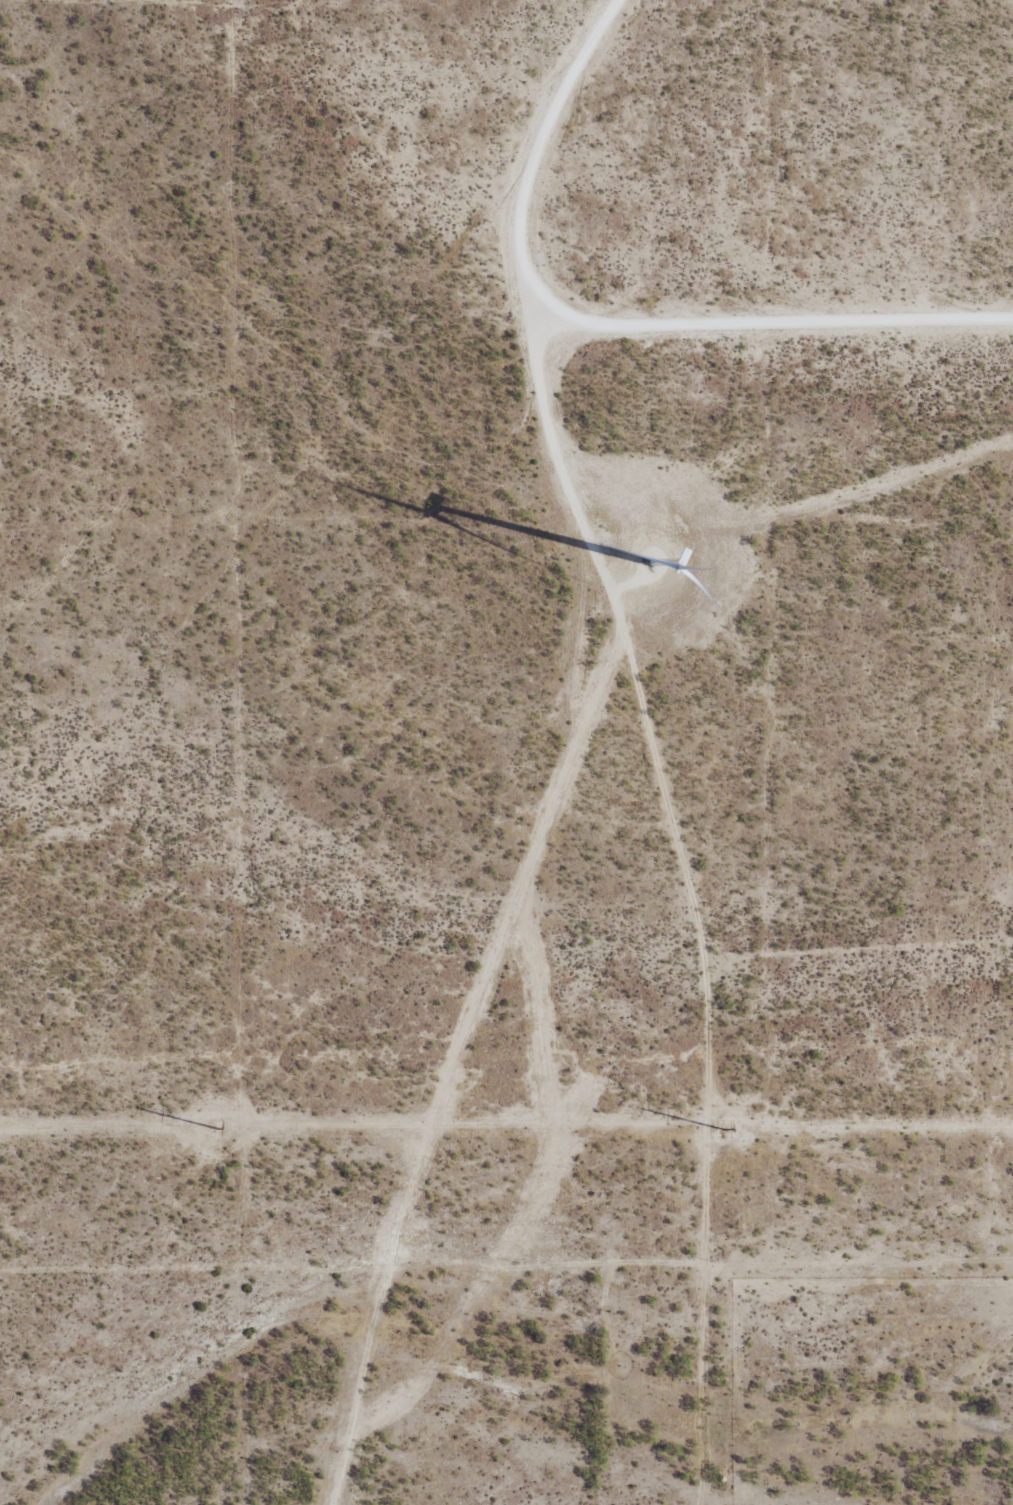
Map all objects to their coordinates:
wind turbine: (643, 559)
road: (668, 722)

